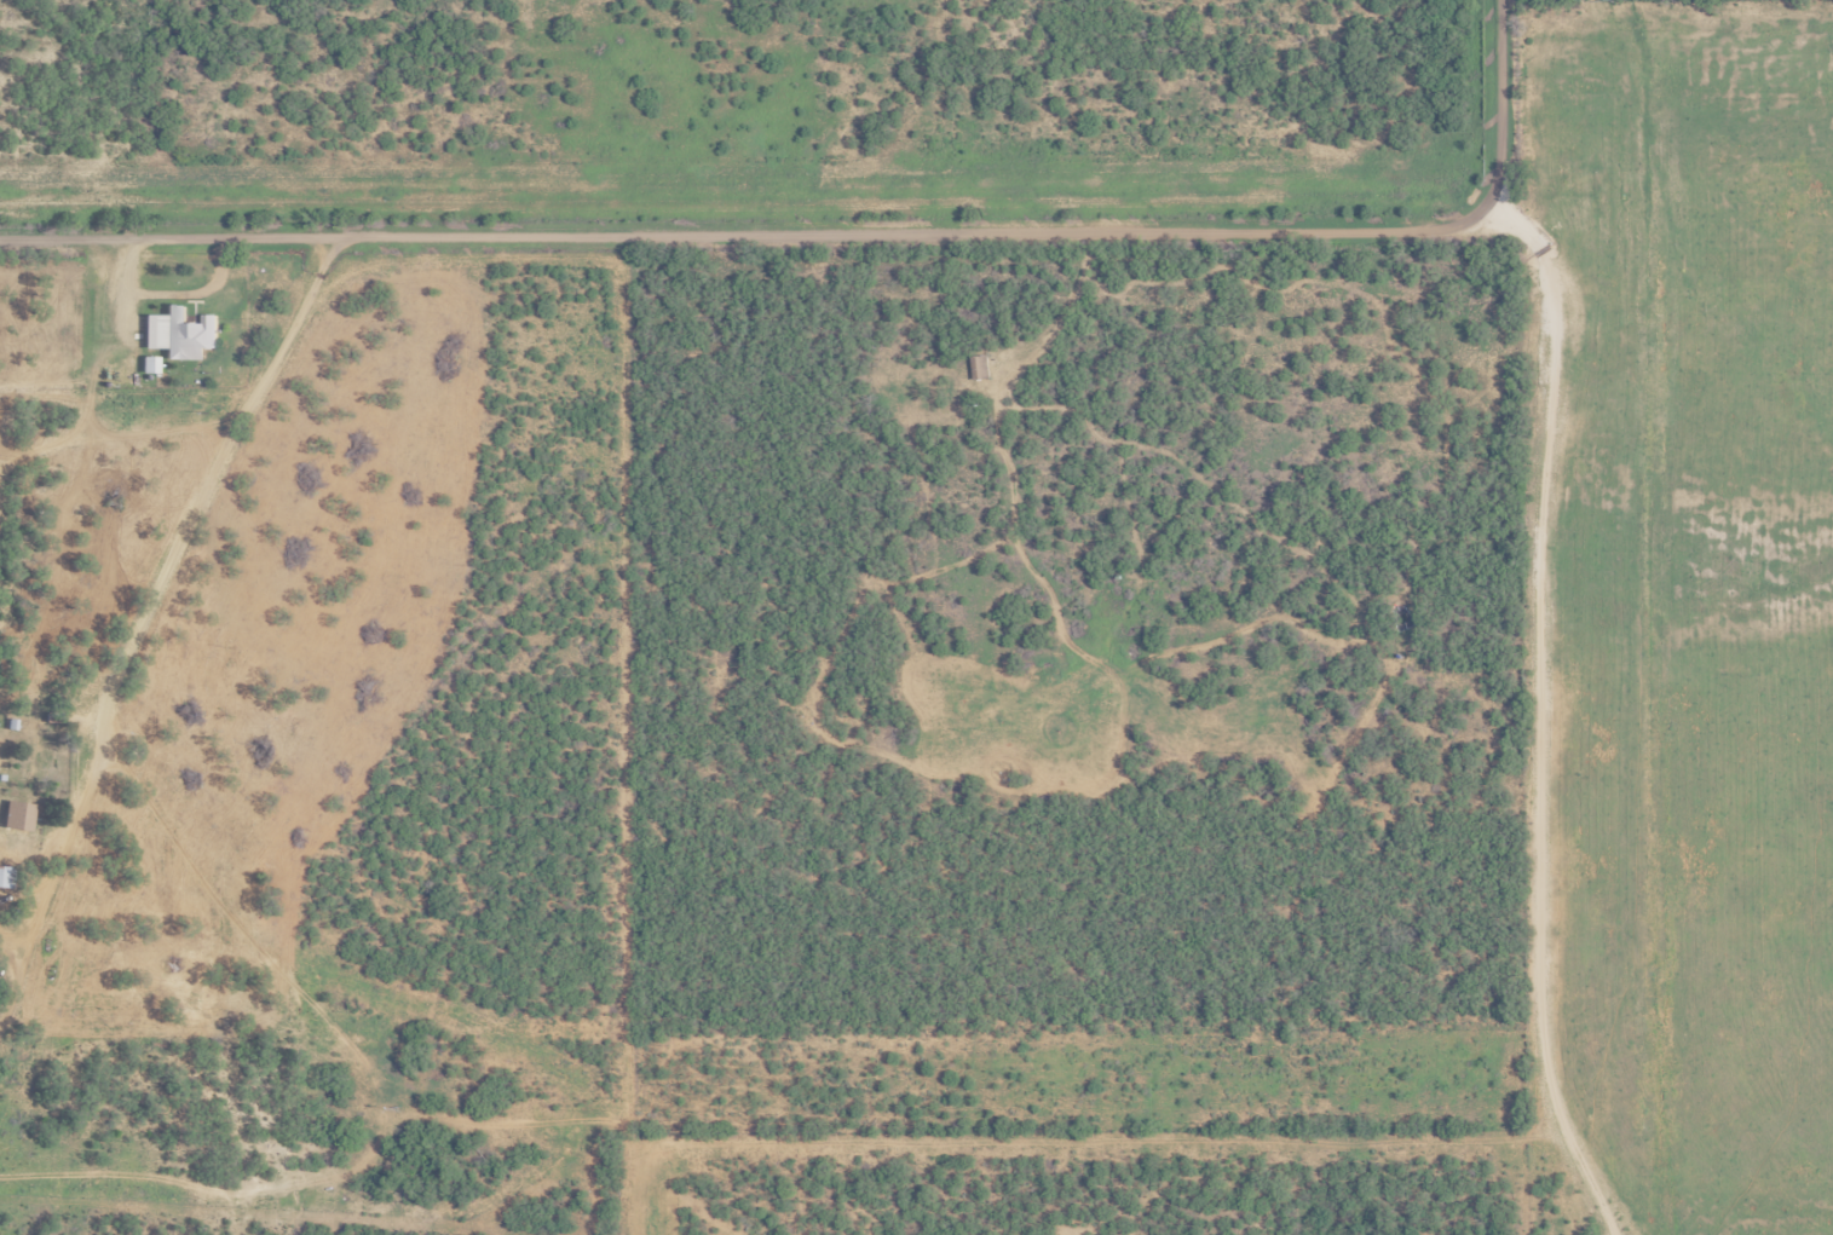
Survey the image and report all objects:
road: (851, 235)
building: (183, 333)
building: (980, 367)
road: (214, 481)
road: (1543, 712)
building: (42, 758)
building: (7, 877)
road: (51, 882)
road: (234, 916)

